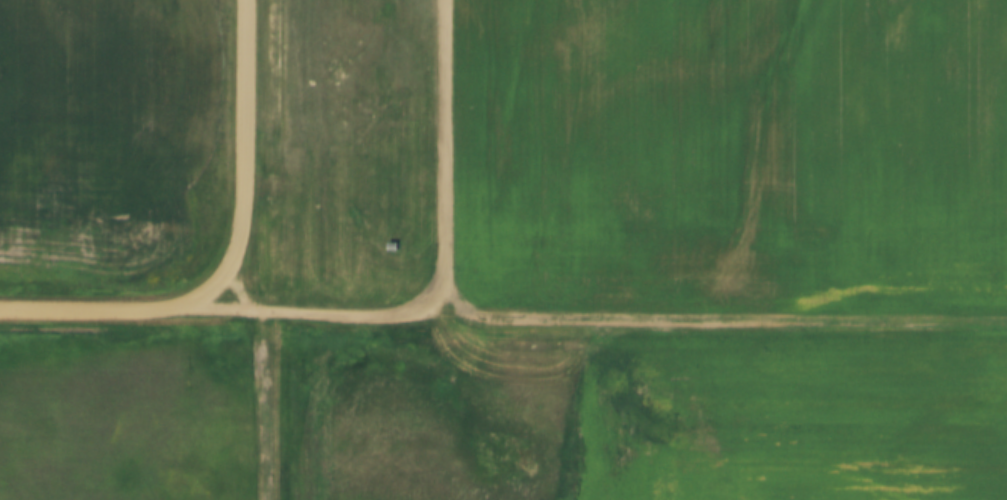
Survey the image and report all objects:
road: (242, 167)
road: (89, 311)
road: (212, 313)
road: (626, 320)
road: (265, 351)

